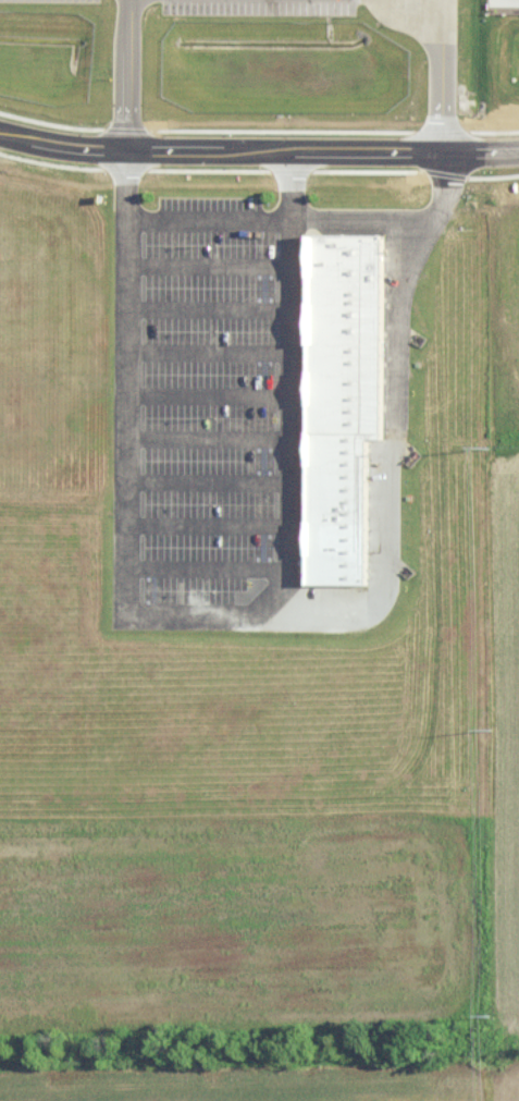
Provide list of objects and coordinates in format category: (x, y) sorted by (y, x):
parking lot: (139, 3)
parking lot: (269, 4)
road: (139, 73)
road: (454, 74)
road: (69, 144)
road: (330, 148)
road: (373, 212)
road: (220, 219)
road: (220, 266)
road: (220, 309)
road: (220, 352)
road: (301, 380)
road: (220, 393)
building: (350, 397)
parking lot: (212, 411)
road: (220, 440)
road: (220, 480)
road: (220, 526)
road: (220, 571)
road: (263, 613)

